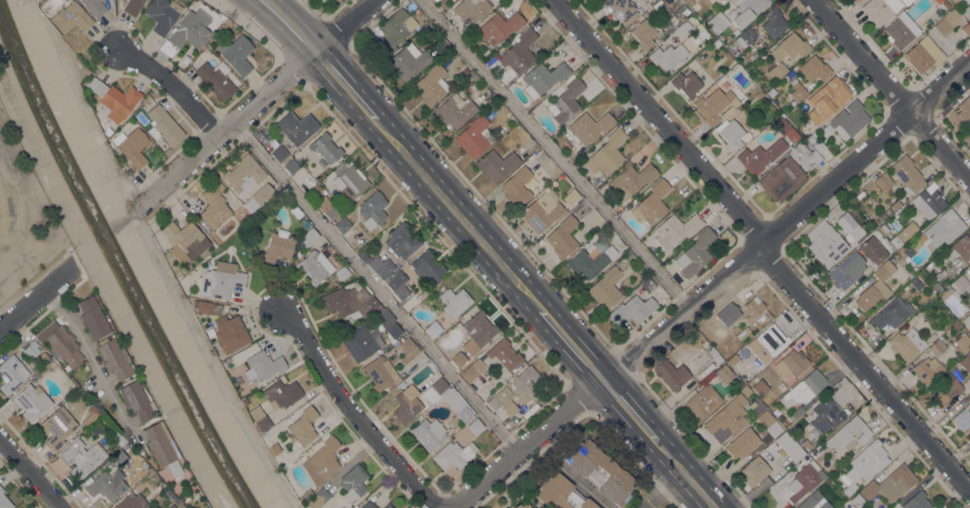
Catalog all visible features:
building: (319, 0)
building: (321, 0)
building: (600, 0)
building: (604, 0)
building: (853, 0)
building: (856, 0)
building: (951, 0)
building: (954, 0)
building: (493, 1)
building: (690, 2)
building: (906, 2)
building: (443, 3)
building: (946, 4)
building: (132, 6)
building: (94, 7)
road: (316, 9)
building: (472, 9)
building: (880, 9)
building: (622, 10)
building: (745, 10)
building: (417, 11)
building: (967, 11)
building: (685, 12)
building: (162, 14)
building: (70, 17)
building: (223, 21)
building: (949, 21)
building: (717, 22)
road: (43, 23)
building: (773, 23)
road: (290, 24)
road: (249, 26)
building: (499, 27)
building: (683, 29)
building: (395, 30)
building: (187, 31)
road: (336, 32)
building: (900, 32)
building: (643, 33)
building: (745, 36)
building: (716, 43)
building: (789, 46)
building: (519, 51)
building: (236, 53)
building: (923, 55)
building: (667, 56)
building: (187, 57)
building: (408, 61)
road: (292, 67)
building: (814, 68)
building: (777, 69)
building: (465, 70)
building: (542, 78)
building: (216, 79)
road: (344, 84)
building: (431, 84)
building: (686, 84)
road: (173, 88)
road: (892, 89)
building: (798, 92)
building: (113, 99)
building: (826, 99)
building: (145, 100)
building: (566, 101)
road: (259, 103)
building: (714, 105)
building: (454, 110)
building: (965, 110)
building: (848, 120)
building: (163, 125)
building: (589, 125)
building: (297, 126)
building: (784, 128)
building: (109, 130)
building: (730, 133)
building: (474, 136)
building: (811, 139)
building: (818, 145)
building: (131, 146)
building: (535, 146)
building: (325, 147)
building: (280, 152)
road: (553, 152)
building: (607, 152)
building: (760, 155)
building: (496, 164)
building: (291, 165)
building: (788, 170)
building: (907, 173)
building: (243, 174)
building: (632, 179)
building: (349, 180)
building: (884, 181)
building: (517, 187)
building: (258, 196)
building: (571, 196)
road: (482, 198)
building: (929, 201)
building: (651, 203)
building: (214, 205)
building: (895, 205)
building: (327, 207)
building: (372, 209)
building: (542, 210)
road: (19, 211)
building: (296, 211)
building: (888, 211)
road: (457, 213)
building: (882, 216)
building: (876, 222)
building: (342, 224)
building: (849, 226)
building: (883, 228)
building: (674, 229)
building: (941, 229)
building: (907, 231)
road: (435, 233)
building: (562, 236)
building: (309, 237)
building: (185, 238)
building: (401, 240)
building: (895, 240)
building: (825, 243)
road: (762, 244)
building: (276, 247)
building: (959, 248)
building: (873, 249)
building: (903, 252)
building: (695, 253)
building: (896, 255)
building: (590, 261)
building: (900, 261)
building: (377, 264)
building: (314, 266)
building: (427, 266)
building: (929, 266)
building: (847, 270)
building: (342, 272)
building: (220, 279)
road: (169, 280)
building: (960, 282)
building: (916, 283)
building: (398, 284)
building: (648, 284)
road: (709, 284)
building: (937, 286)
building: (875, 287)
road: (376, 288)
building: (605, 288)
building: (946, 293)
road: (35, 297)
building: (969, 298)
building: (351, 301)
building: (454, 301)
building: (734, 302)
building: (754, 306)
building: (206, 307)
building: (632, 309)
building: (892, 313)
building: (92, 317)
building: (967, 321)
building: (387, 323)
building: (956, 325)
building: (433, 328)
building: (479, 328)
building: (228, 332)
building: (743, 332)
building: (935, 332)
building: (362, 340)
building: (767, 342)
building: (962, 342)
building: (906, 343)
road: (571, 344)
building: (64, 346)
building: (937, 347)
building: (30, 348)
building: (406, 348)
building: (712, 352)
road: (89, 353)
building: (504, 353)
building: (45, 355)
building: (112, 358)
building: (458, 359)
building: (718, 359)
building: (794, 361)
building: (966, 362)
building: (53, 364)
building: (263, 365)
building: (34, 368)
building: (472, 369)
building: (927, 369)
building: (380, 372)
building: (671, 373)
building: (724, 373)
building: (11, 374)
building: (525, 383)
building: (740, 383)
building: (439, 385)
building: (760, 387)
building: (803, 388)
building: (946, 388)
building: (744, 389)
building: (281, 393)
road: (580, 396)
building: (32, 401)
building: (135, 401)
building: (244, 401)
building: (494, 401)
building: (702, 402)
building: (406, 404)
building: (456, 404)
building: (756, 405)
building: (509, 407)
building: (93, 410)
road: (629, 410)
building: (808, 410)
building: (776, 412)
building: (797, 413)
road: (355, 417)
building: (258, 418)
building: (727, 418)
building: (824, 418)
building: (962, 418)
building: (769, 423)
building: (57, 426)
building: (302, 426)
building: (475, 426)
building: (428, 433)
building: (849, 434)
building: (117, 437)
building: (969, 439)
building: (742, 443)
building: (159, 444)
building: (806, 444)
building: (789, 446)
building: (816, 451)
building: (454, 454)
building: (82, 457)
building: (119, 457)
road: (633, 458)
building: (805, 458)
building: (321, 461)
building: (867, 461)
building: (174, 470)
building: (754, 470)
building: (599, 471)
road: (30, 472)
road: (685, 474)
building: (149, 475)
building: (802, 482)
building: (889, 482)
building: (352, 483)
building: (107, 484)
road: (583, 485)
road: (660, 489)
building: (849, 489)
building: (560, 492)
building: (306, 493)
building: (316, 499)
building: (4, 500)
building: (810, 500)
building: (857, 500)
building: (131, 501)
building: (917, 501)
building: (368, 505)
building: (824, 505)
building: (354, 506)
building: (387, 506)
building: (520, 506)
building: (18, 507)

